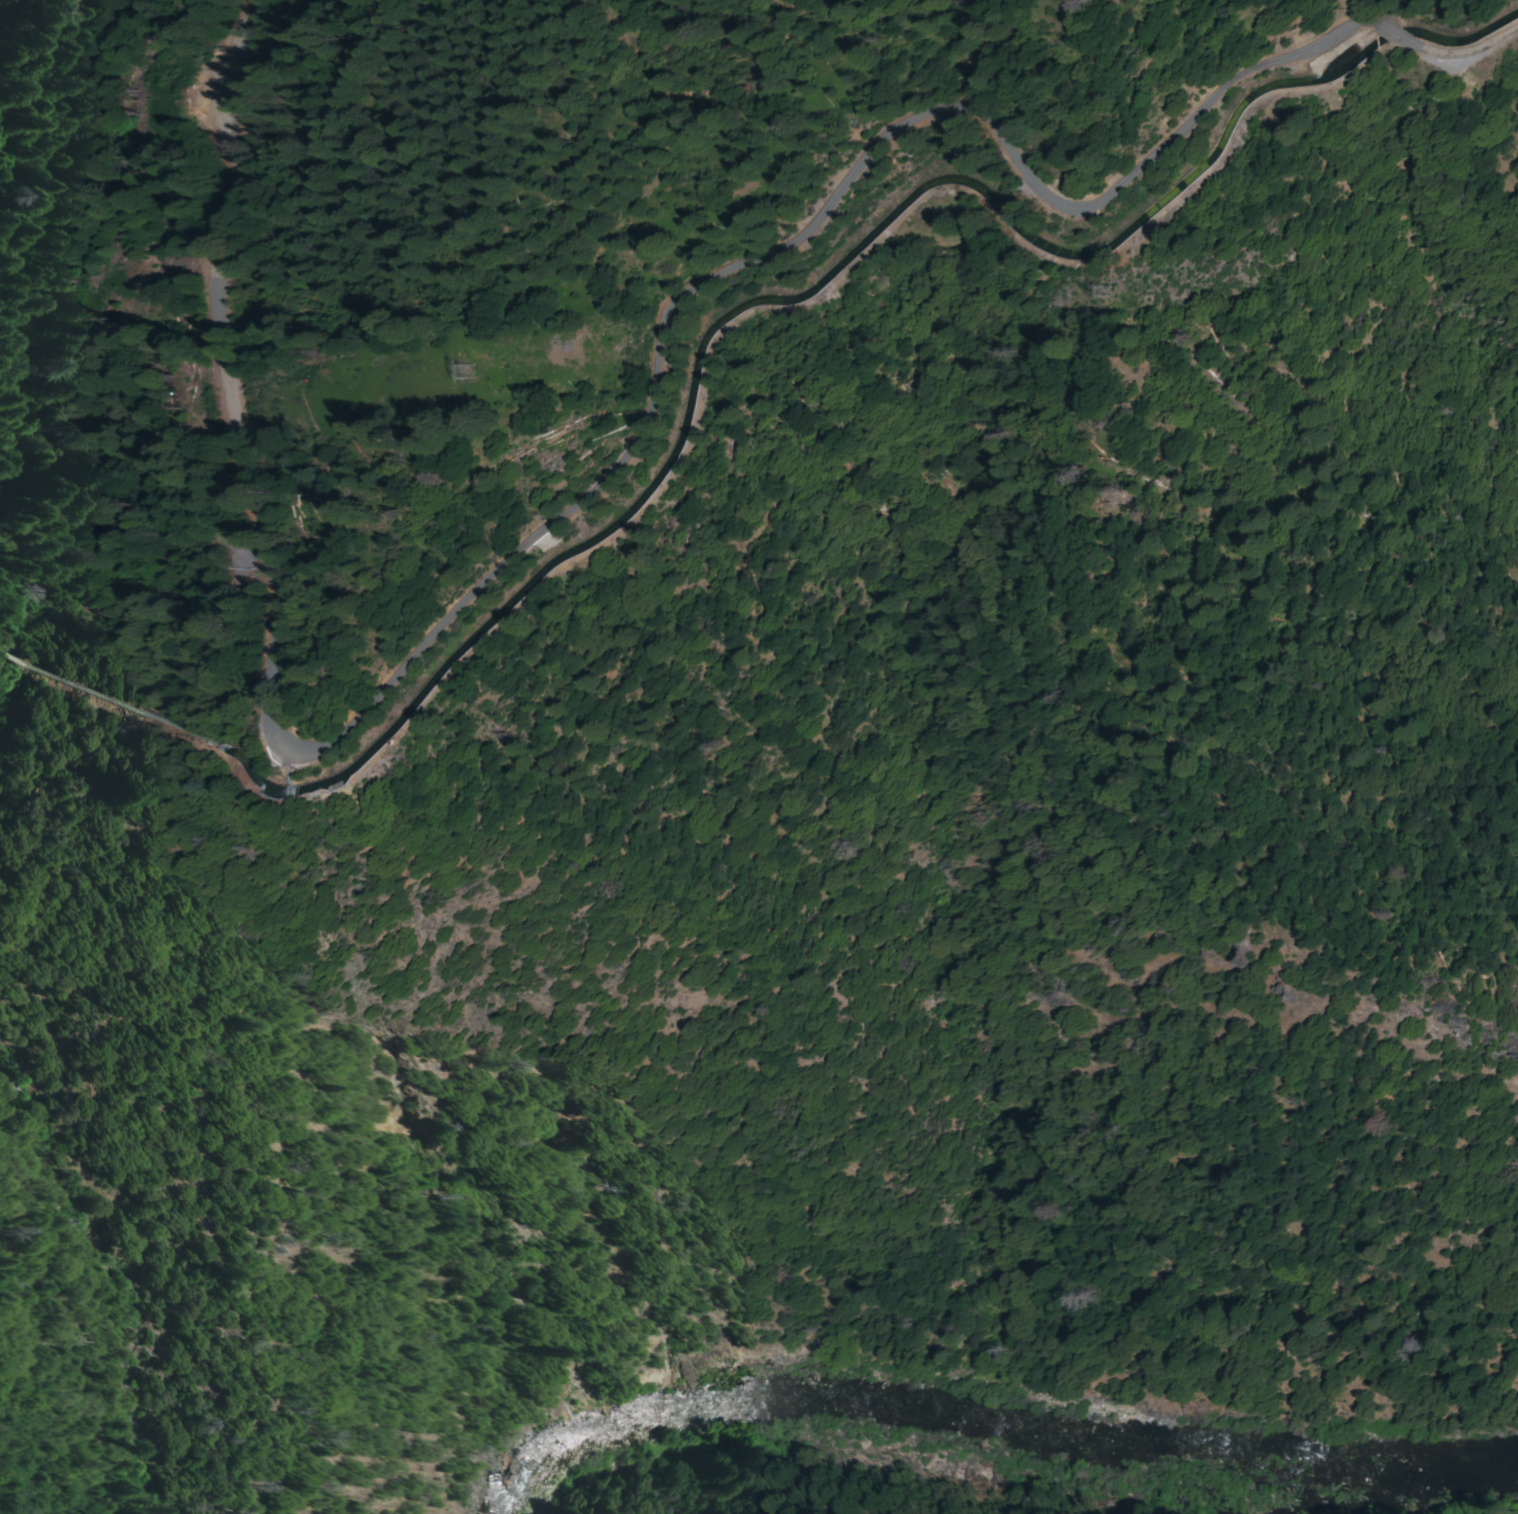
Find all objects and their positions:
road: (1393, 35)
road: (1461, 62)
power tower: (1113, 295)
power tower: (471, 373)
road: (506, 545)

